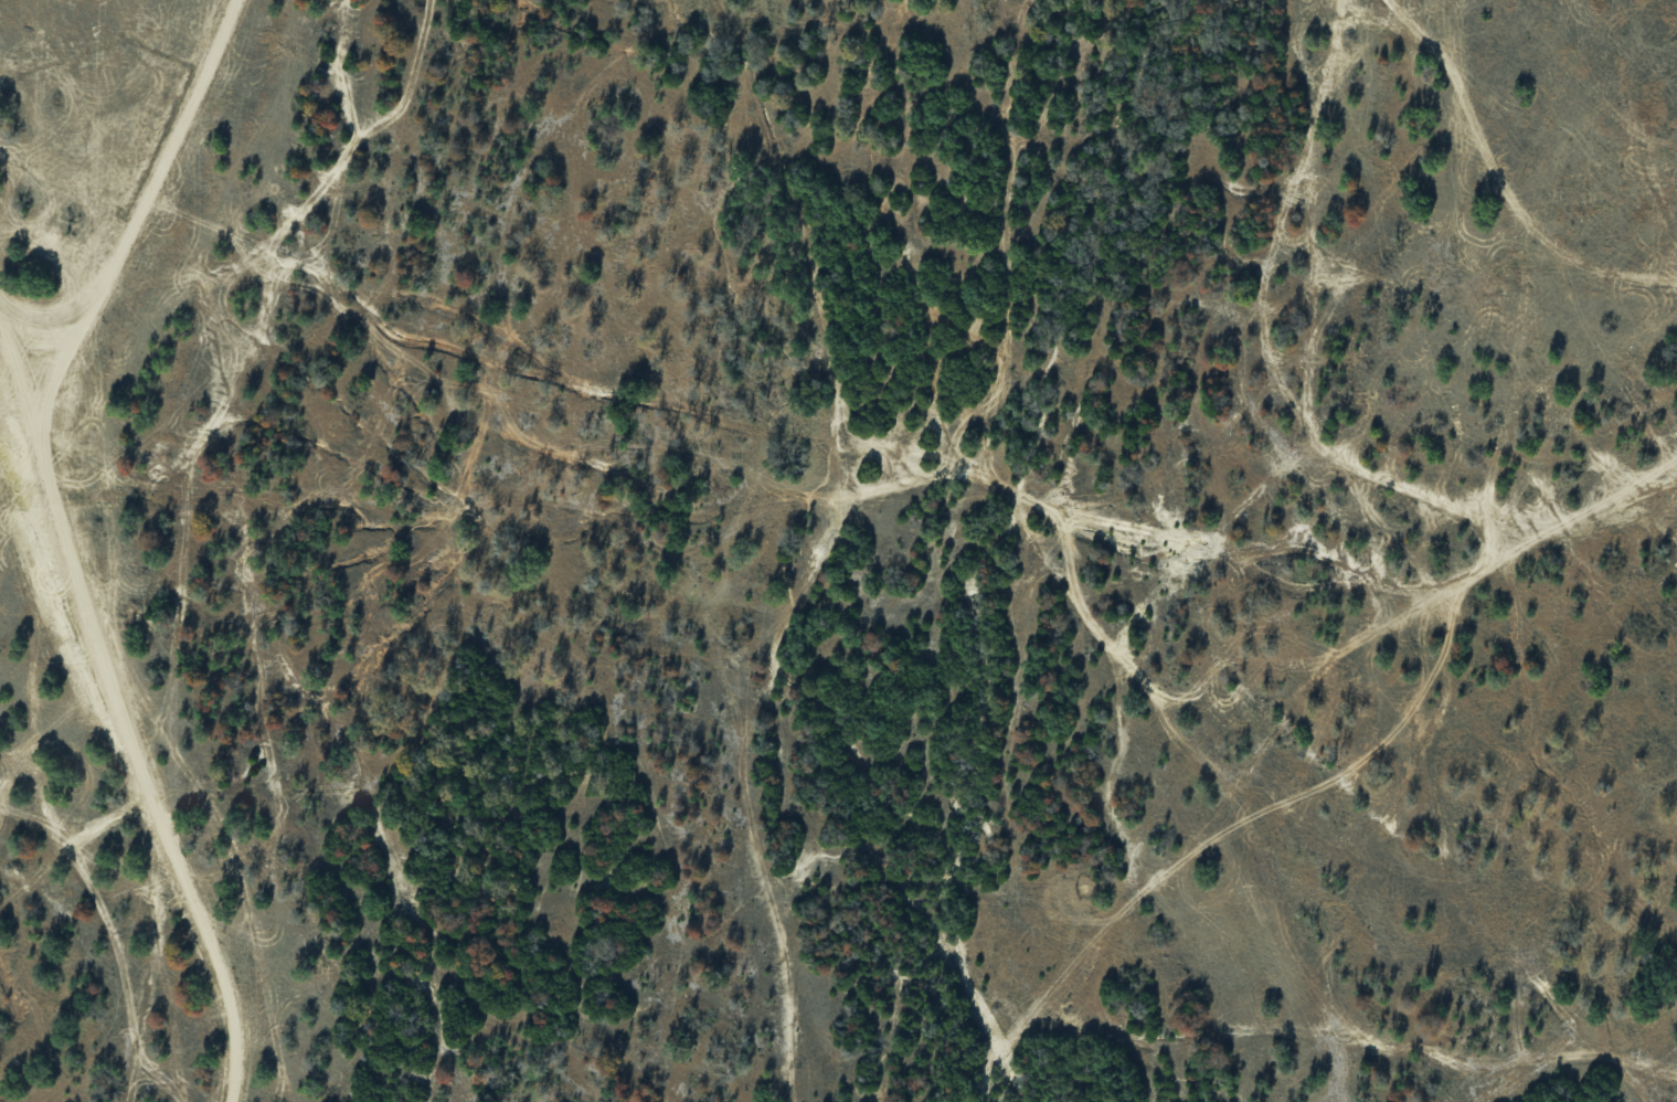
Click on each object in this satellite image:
road: (132, 720)

